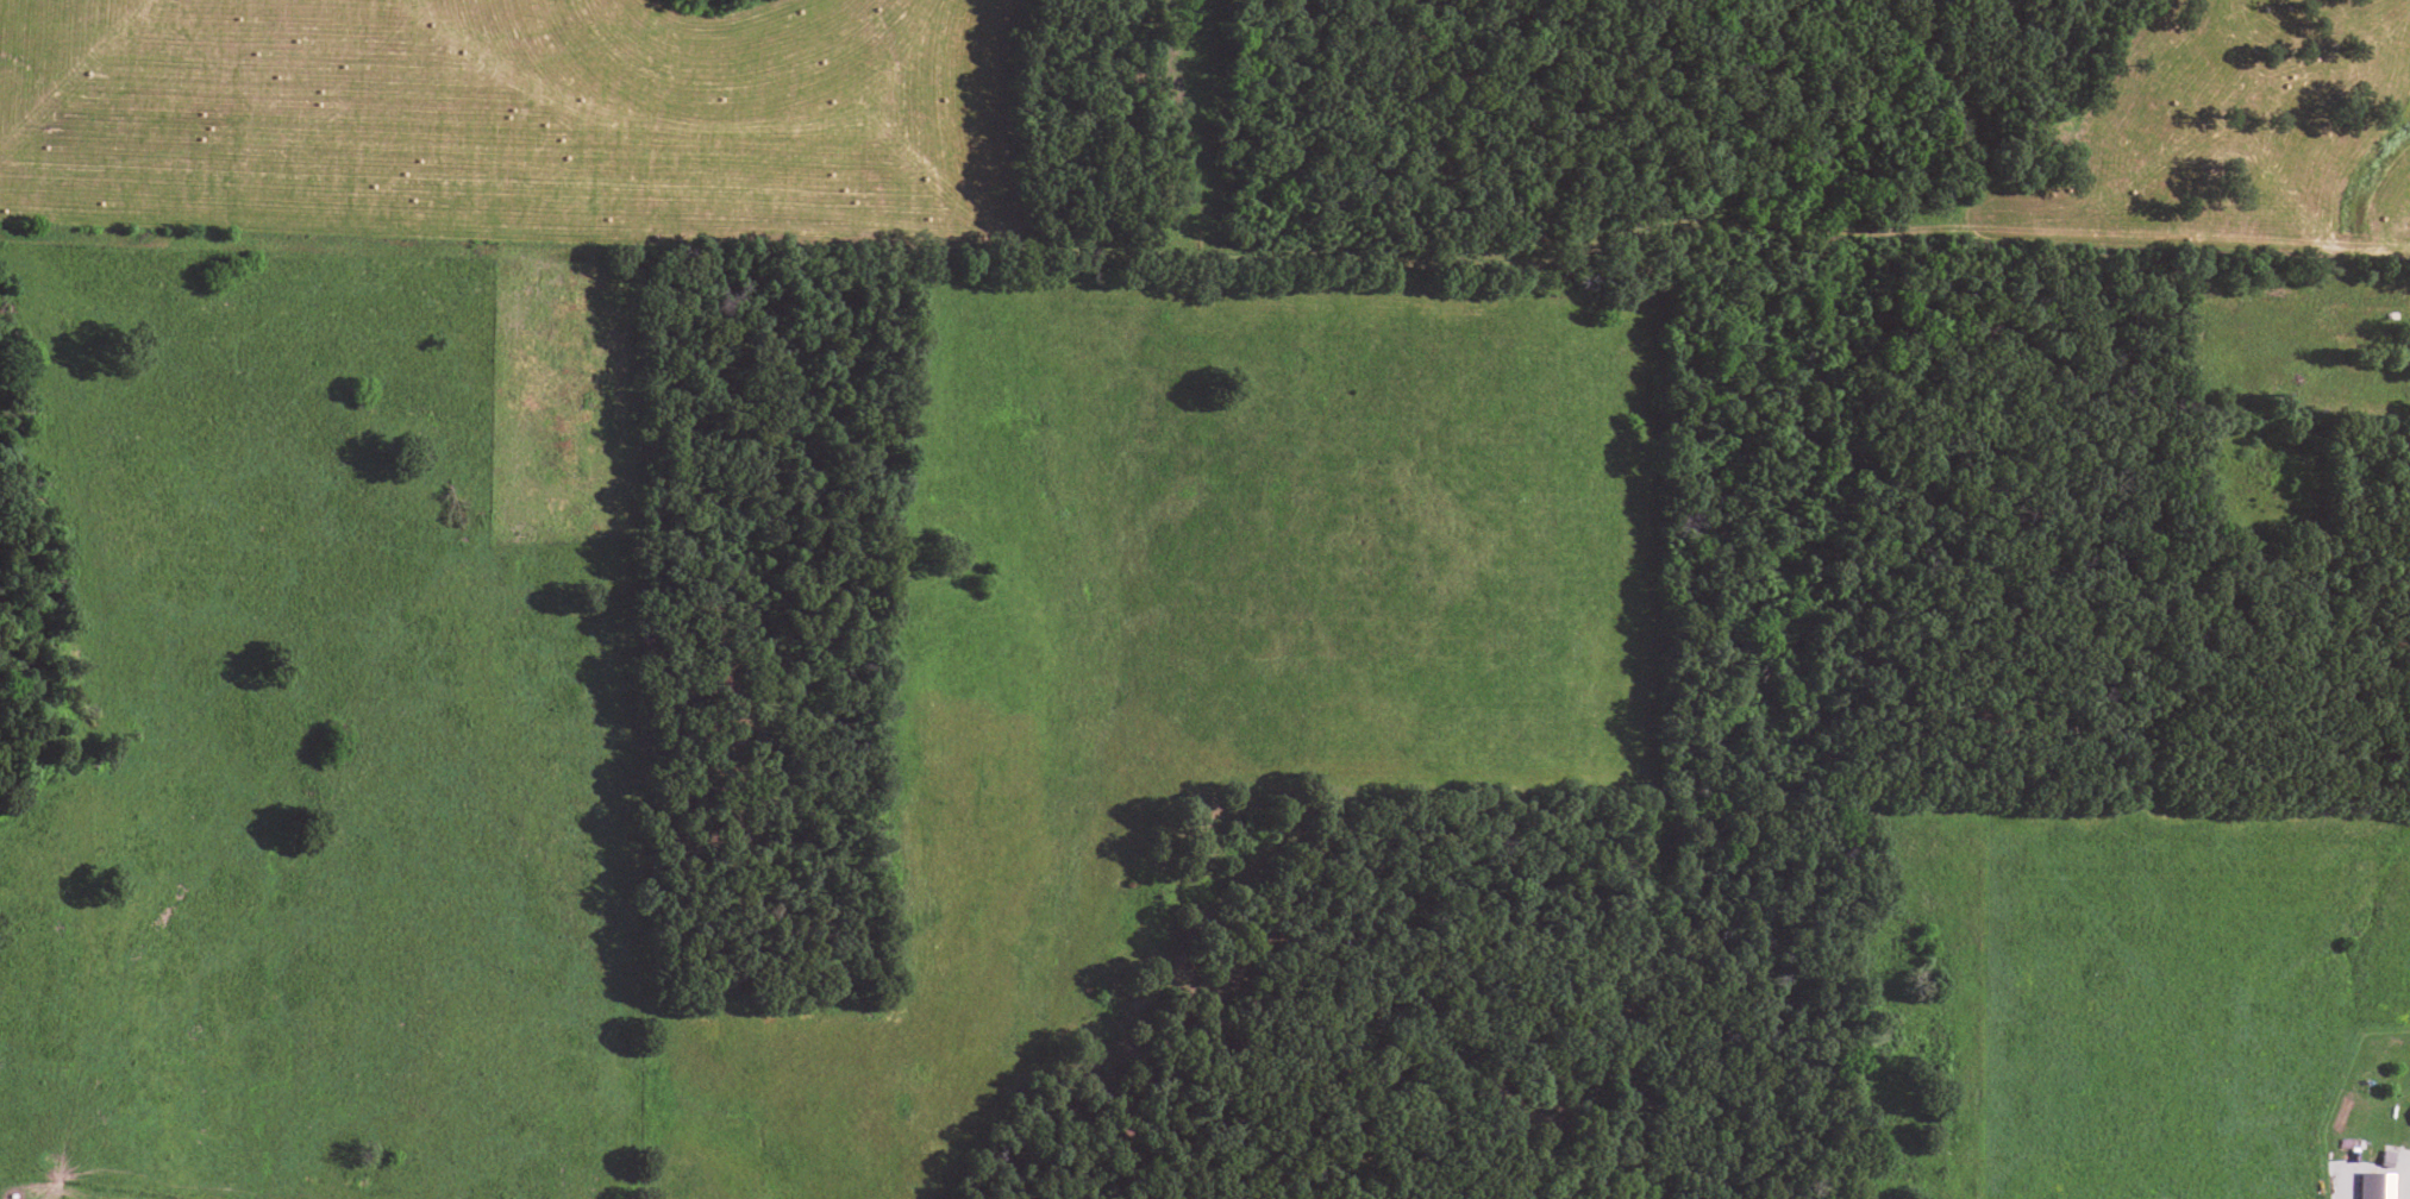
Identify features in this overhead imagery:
road: (2406, 1172)
building: (2373, 1184)

